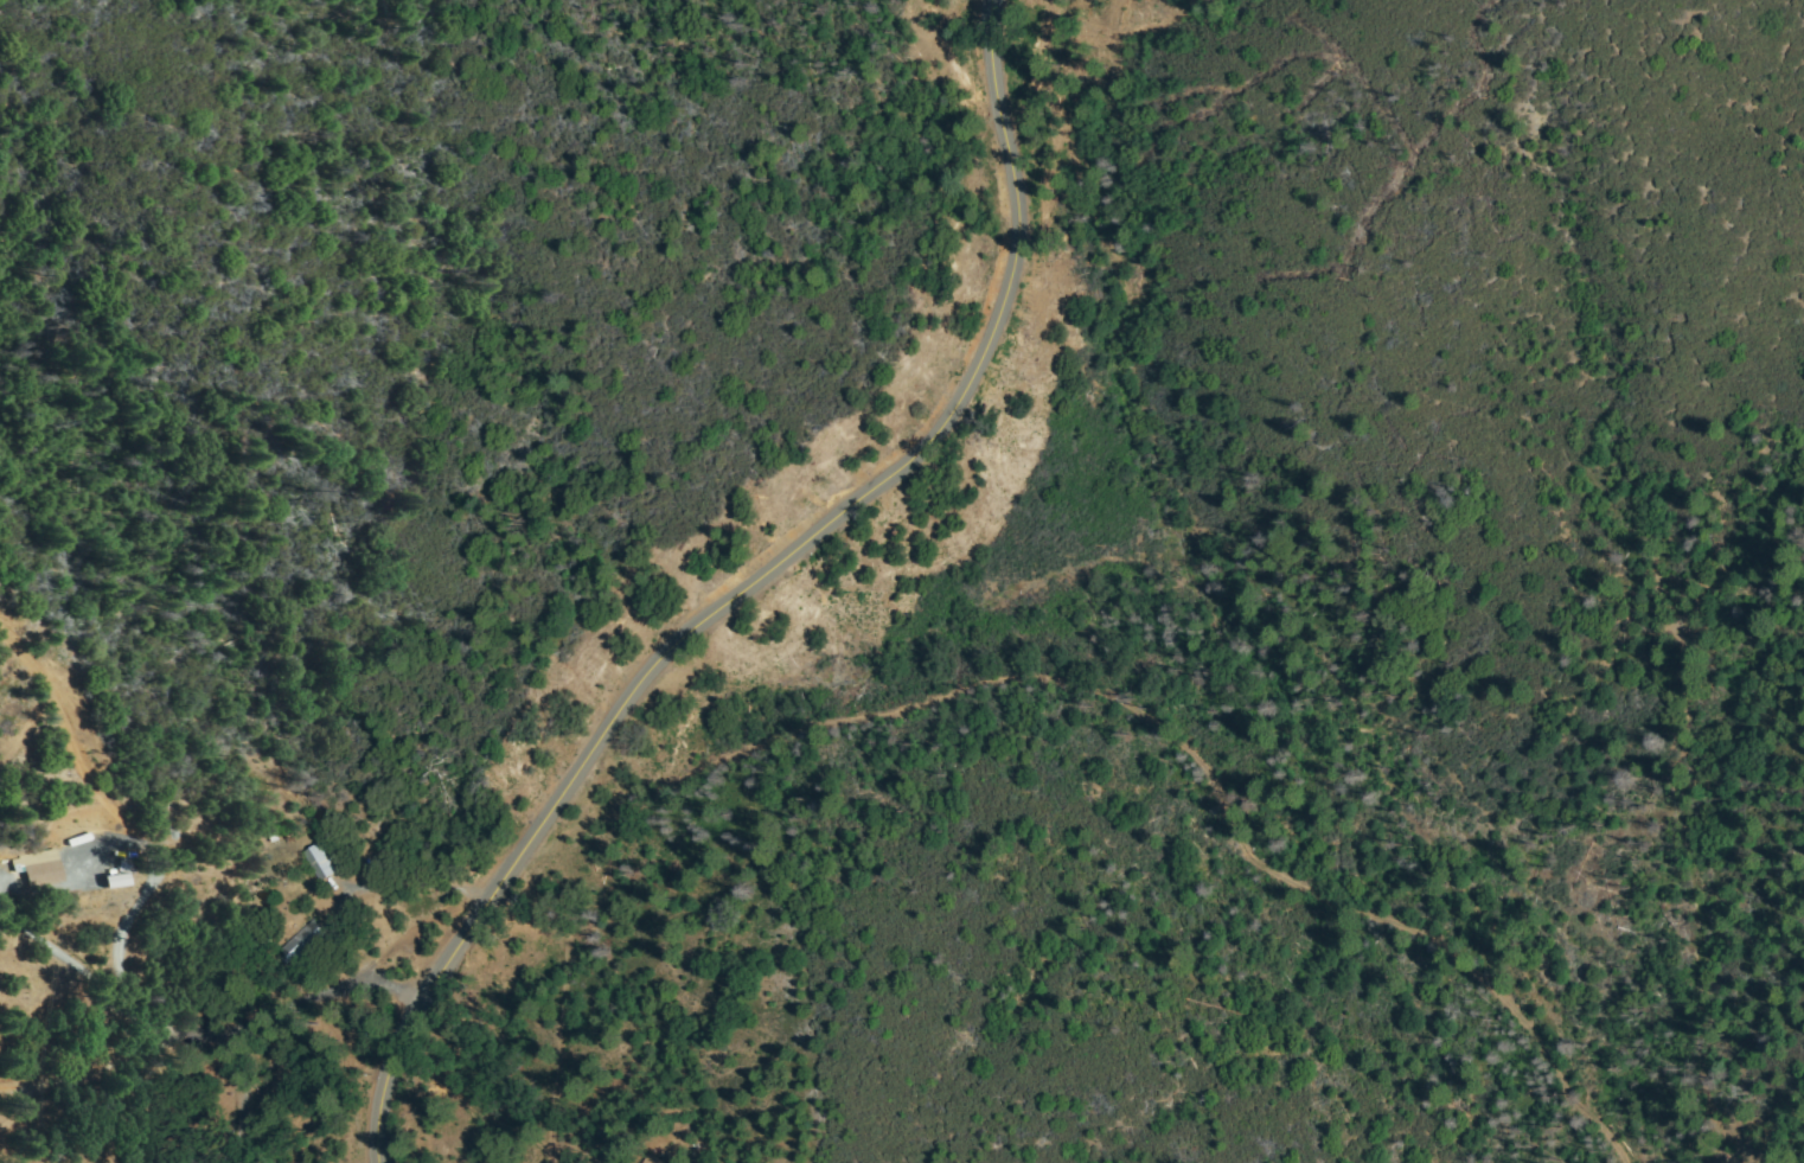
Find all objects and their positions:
road: (755, 587)
building: (330, 863)
building: (43, 867)
road: (172, 869)
building: (115, 876)
building: (314, 941)
road: (222, 1028)
building: (655, 1159)

